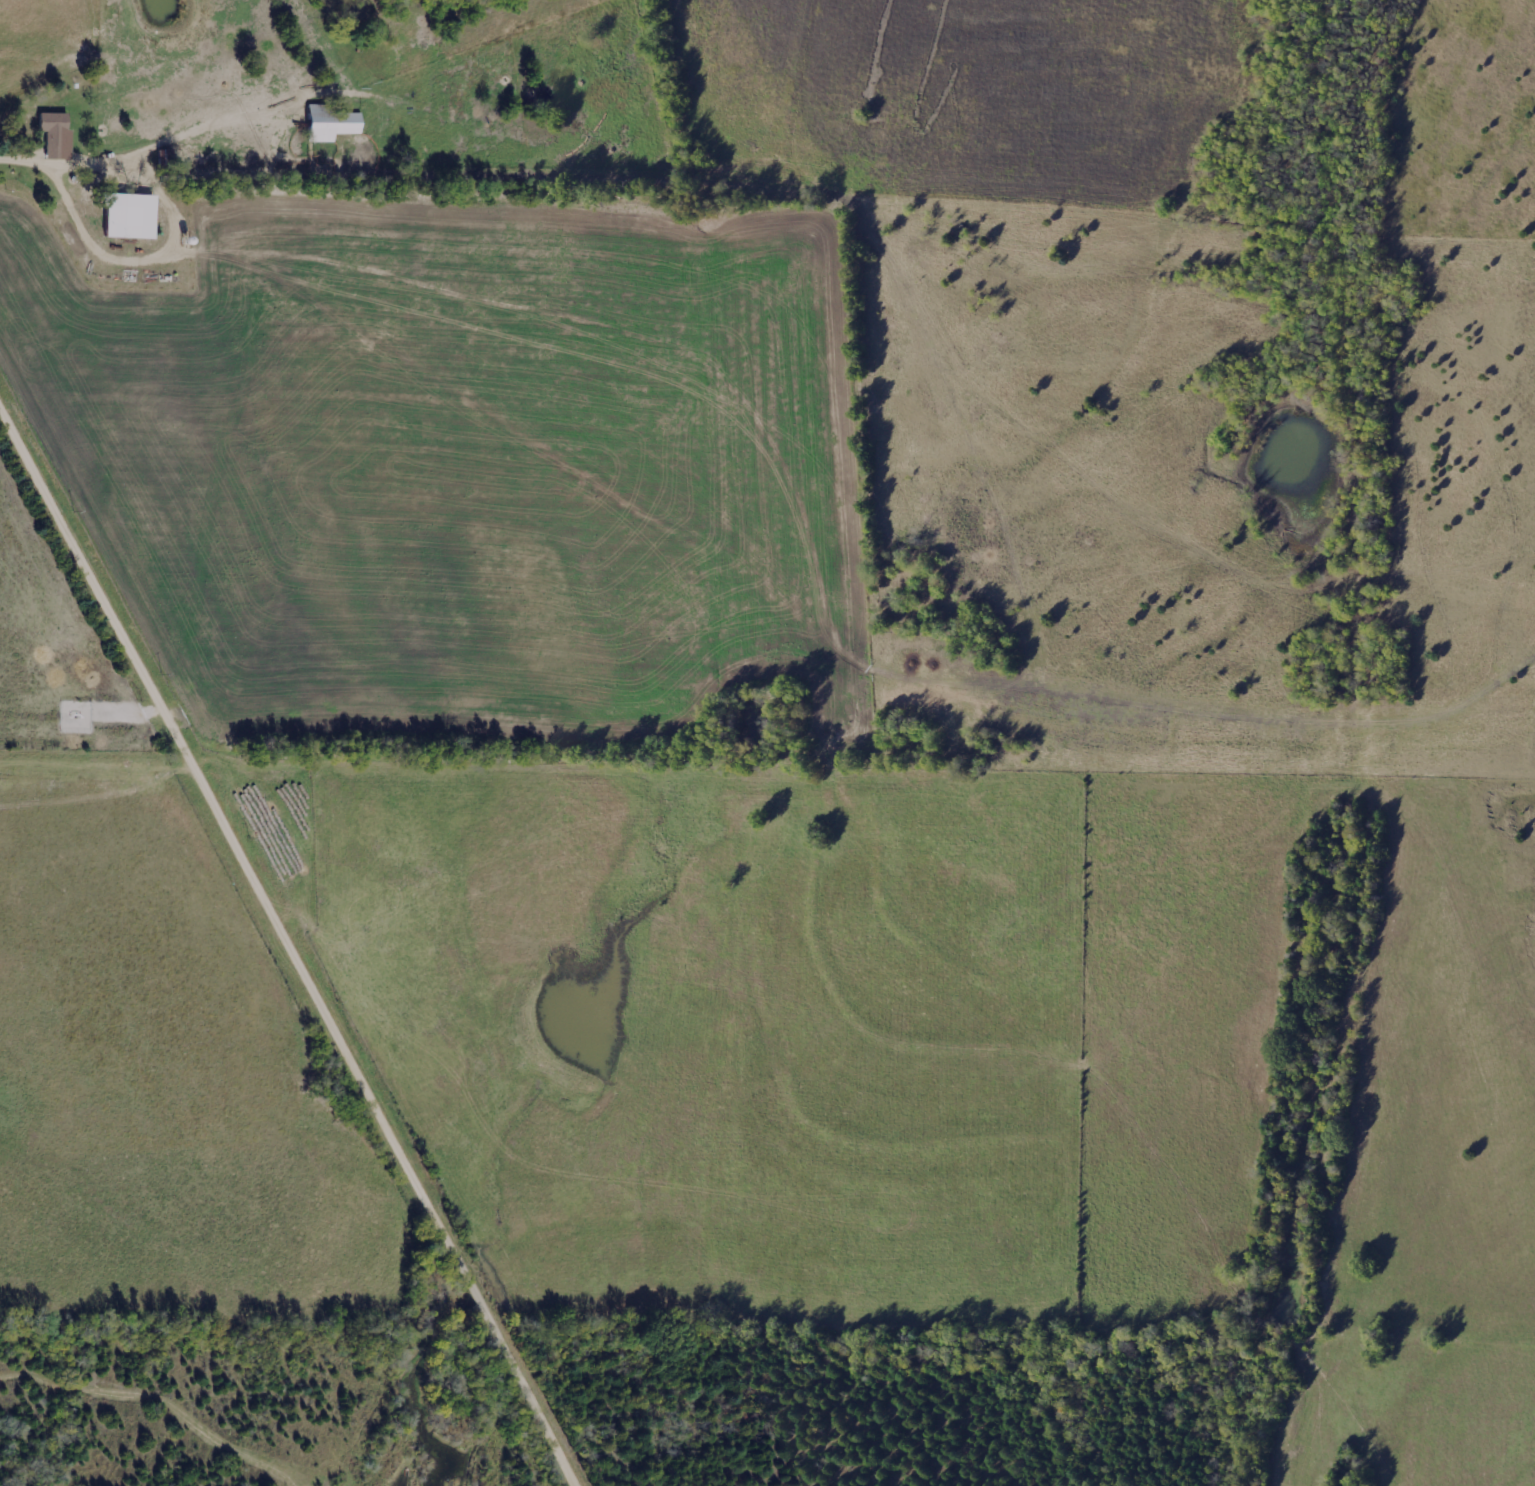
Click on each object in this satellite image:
building: (328, 125)
building: (54, 136)
building: (126, 217)
road: (287, 944)

